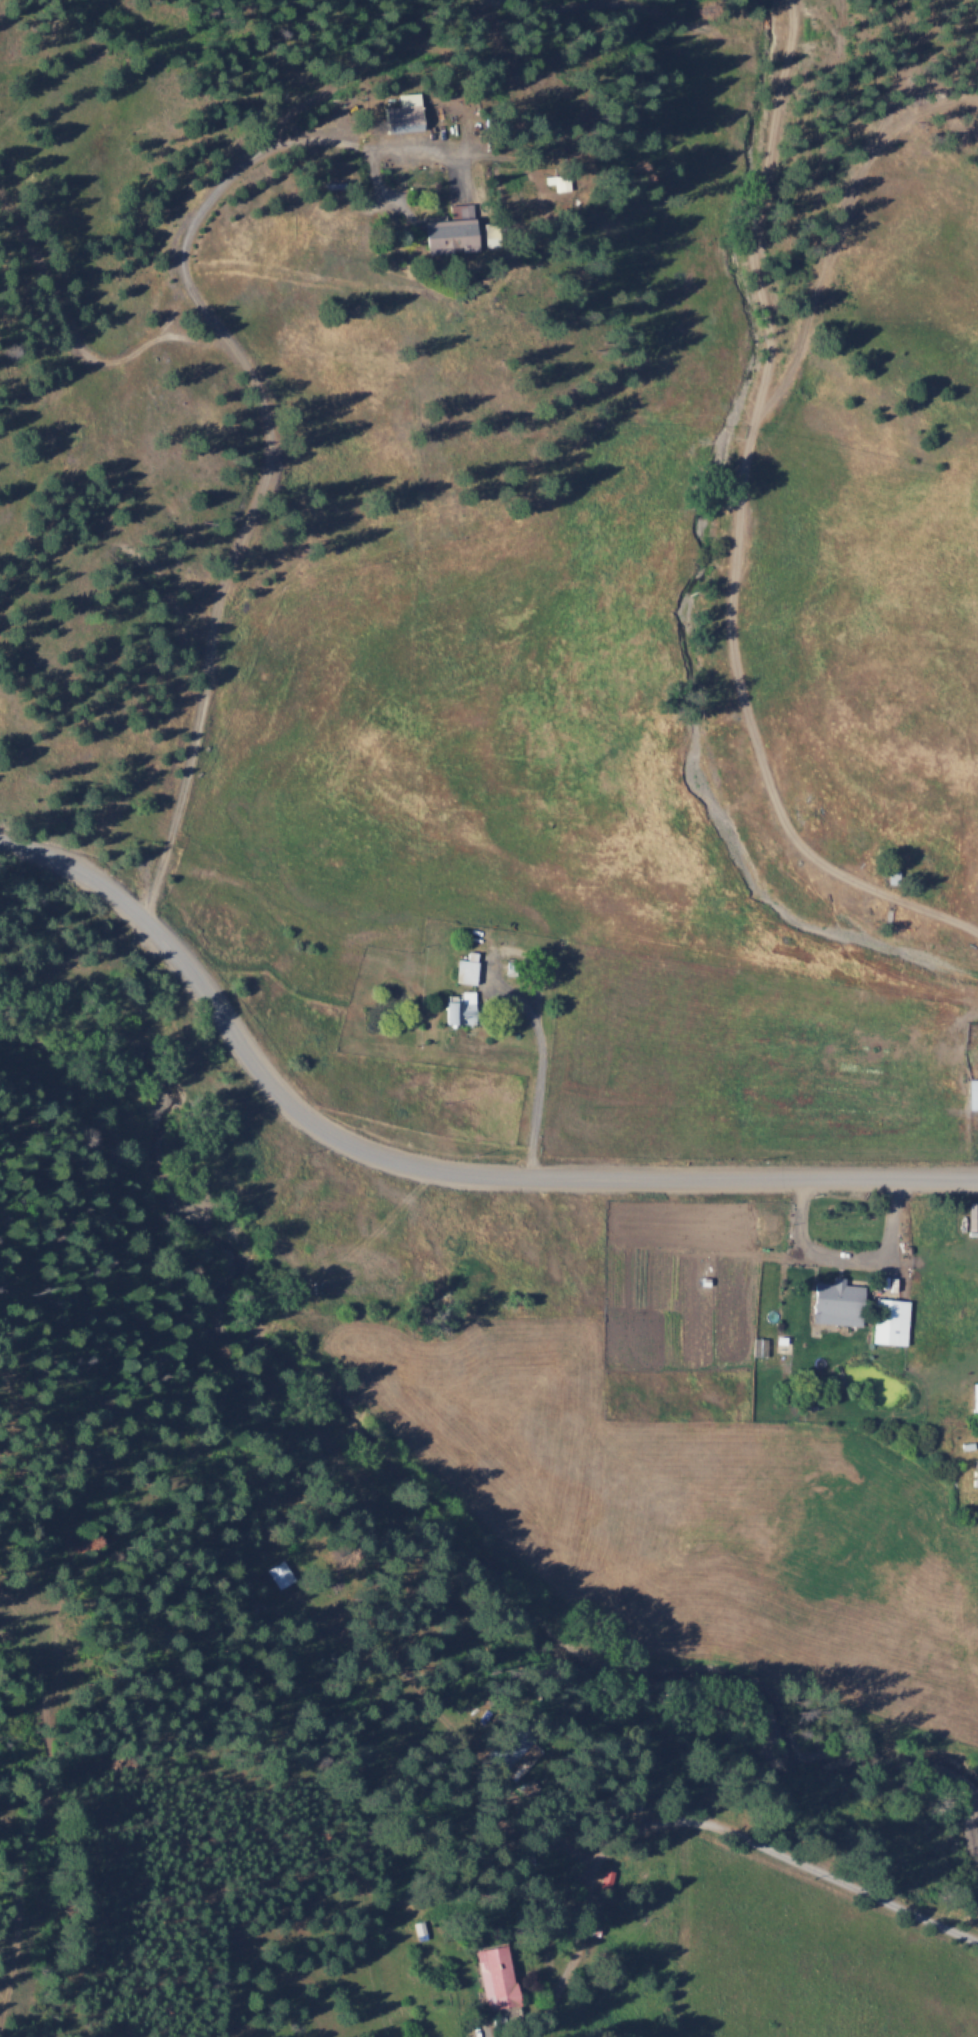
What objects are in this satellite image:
building: (390, 47)
building: (402, 114)
building: (560, 179)
building: (446, 235)
road: (728, 812)
building: (808, 816)
building: (891, 877)
building: (465, 971)
building: (458, 1009)
road: (564, 1031)
building: (972, 1094)
road: (426, 1161)
building: (973, 1214)
building: (836, 1298)
building: (889, 1320)
building: (974, 1399)
building: (976, 1468)
building: (256, 1589)
building: (510, 1751)
road: (782, 1851)
building: (605, 1879)
building: (495, 1977)

